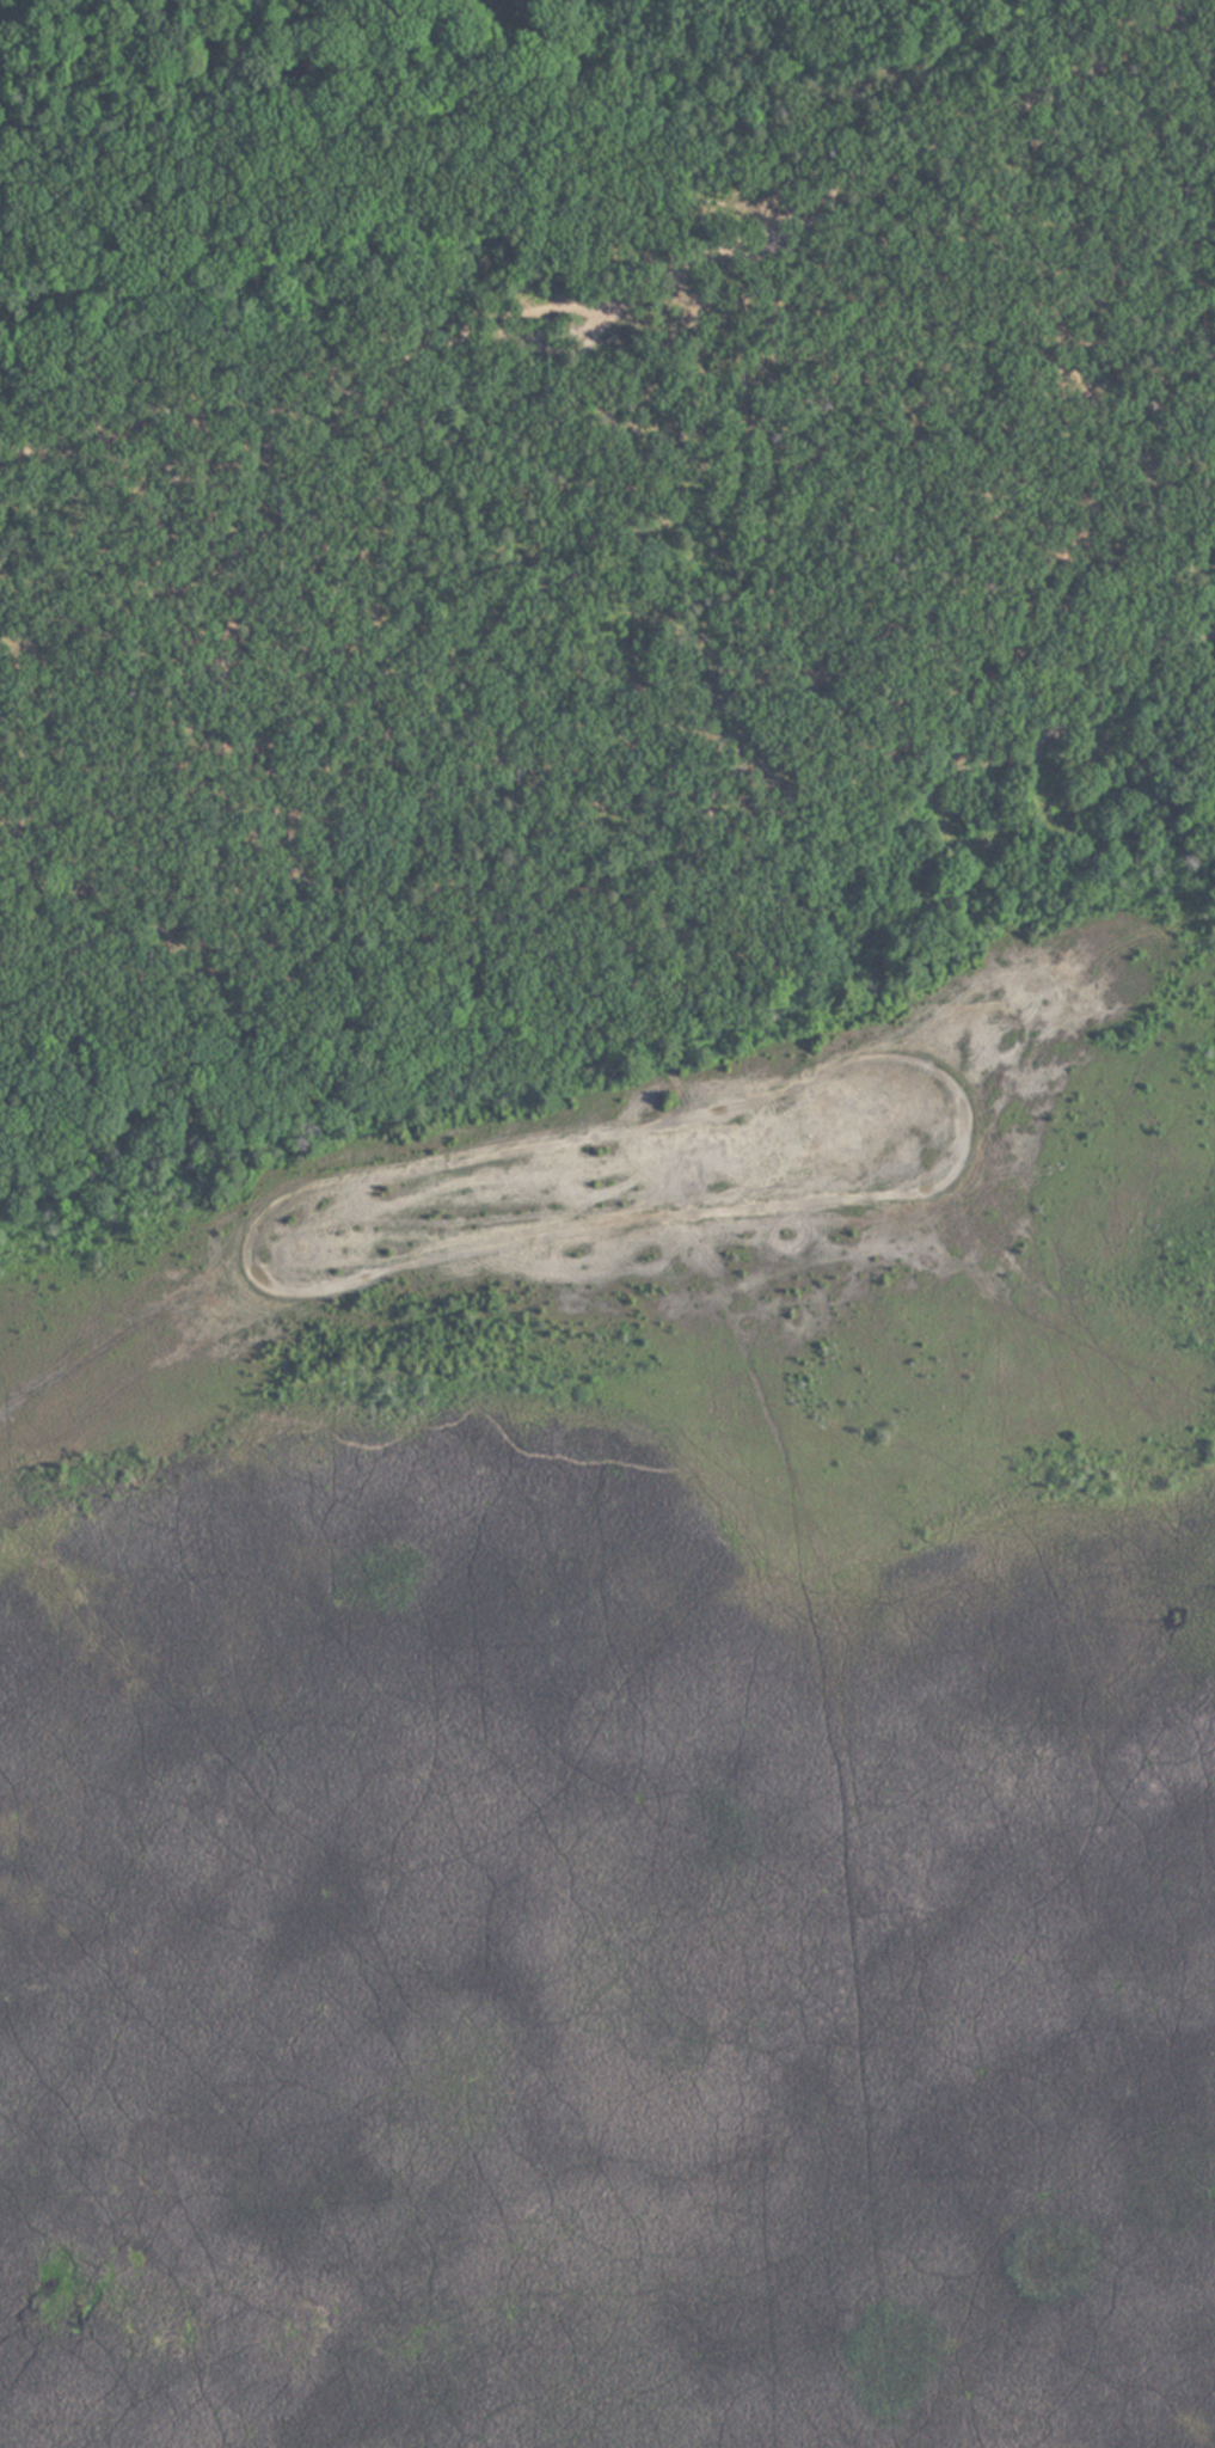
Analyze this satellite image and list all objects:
road: (606, 295)

